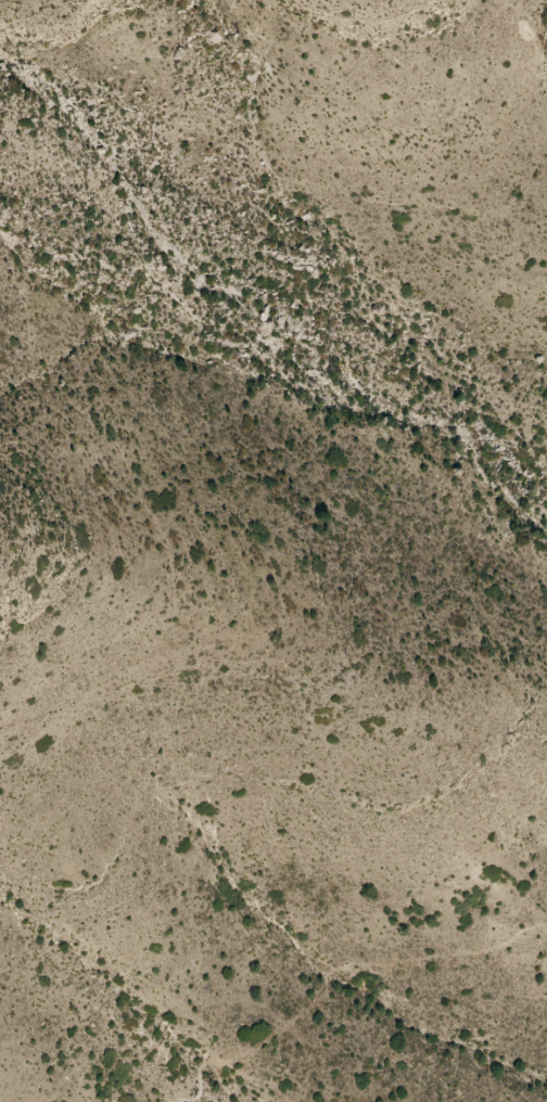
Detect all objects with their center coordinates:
road: (332, 971)

